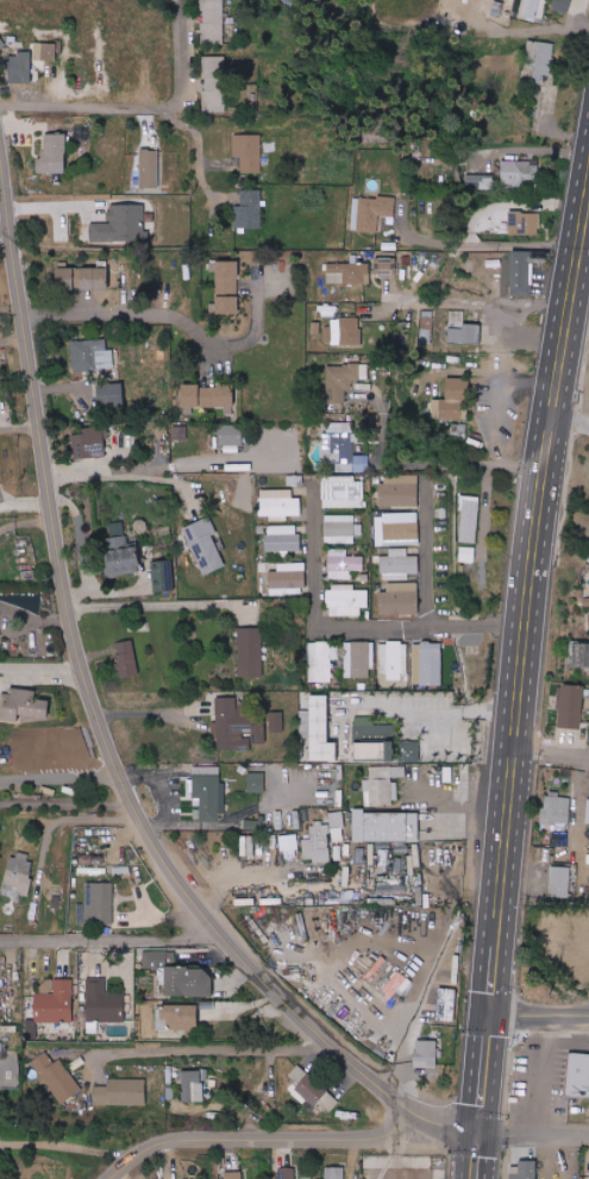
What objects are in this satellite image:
building: (491, 2)
building: (562, 5)
building: (534, 8)
road: (577, 12)
building: (212, 19)
road: (583, 27)
road: (532, 32)
building: (45, 51)
building: (540, 61)
road: (180, 62)
building: (20, 68)
building: (215, 83)
road: (79, 106)
road: (198, 145)
building: (247, 152)
building: (54, 155)
building: (519, 171)
building: (152, 178)
building: (480, 181)
building: (247, 211)
building: (370, 212)
building: (524, 222)
building: (123, 225)
road: (485, 244)
building: (388, 265)
building: (349, 272)
building: (522, 274)
building: (95, 278)
building: (227, 287)
road: (477, 301)
road: (125, 313)
building: (426, 325)
building: (345, 331)
building: (466, 334)
building: (90, 355)
building: (349, 374)
building: (111, 395)
building: (208, 397)
building: (456, 400)
road: (569, 425)
building: (458, 431)
building: (231, 438)
building: (90, 443)
building: (340, 450)
road: (155, 465)
road: (427, 465)
road: (143, 477)
building: (295, 481)
building: (399, 490)
building: (343, 493)
building: (278, 502)
road: (25, 503)
building: (469, 519)
building: (340, 529)
building: (402, 532)
building: (282, 539)
building: (205, 545)
building: (121, 551)
road: (426, 551)
building: (466, 554)
building: (343, 564)
building: (399, 565)
building: (163, 576)
building: (288, 579)
building: (7, 592)
building: (346, 600)
building: (400, 600)
road: (525, 601)
road: (155, 603)
road: (36, 615)
road: (346, 627)
building: (250, 652)
building: (581, 654)
building: (127, 658)
building: (321, 660)
building: (359, 660)
building: (393, 660)
road: (42, 666)
building: (23, 705)
building: (571, 707)
road: (433, 710)
road: (151, 713)
road: (99, 722)
building: (276, 722)
building: (237, 727)
building: (321, 730)
road: (550, 767)
road: (59, 774)
building: (256, 783)
building: (383, 785)
building: (208, 792)
road: (460, 802)
building: (557, 809)
building: (588, 813)
road: (59, 820)
building: (252, 824)
building: (337, 827)
building: (386, 827)
building: (563, 838)
building: (288, 842)
building: (317, 844)
building: (249, 846)
building: (370, 855)
building: (414, 865)
building: (18, 874)
building: (347, 874)
building: (560, 882)
building: (419, 896)
building: (96, 905)
road: (107, 940)
building: (159, 959)
building: (189, 983)
building: (394, 985)
building: (104, 1003)
building: (55, 1004)
building: (446, 1004)
road: (391, 1016)
road: (519, 1017)
road: (569, 1017)
building: (180, 1018)
road: (209, 1048)
building: (7, 1051)
building: (426, 1054)
building: (578, 1074)
building: (56, 1078)
road: (483, 1078)
road: (543, 1078)
building: (192, 1086)
building: (311, 1090)
building: (121, 1092)
road: (286, 1137)
road: (507, 1139)
road: (563, 1140)
road: (67, 1144)
road: (475, 1159)
building: (526, 1169)
building: (334, 1172)
building: (288, 1173)
building: (232, 1174)

